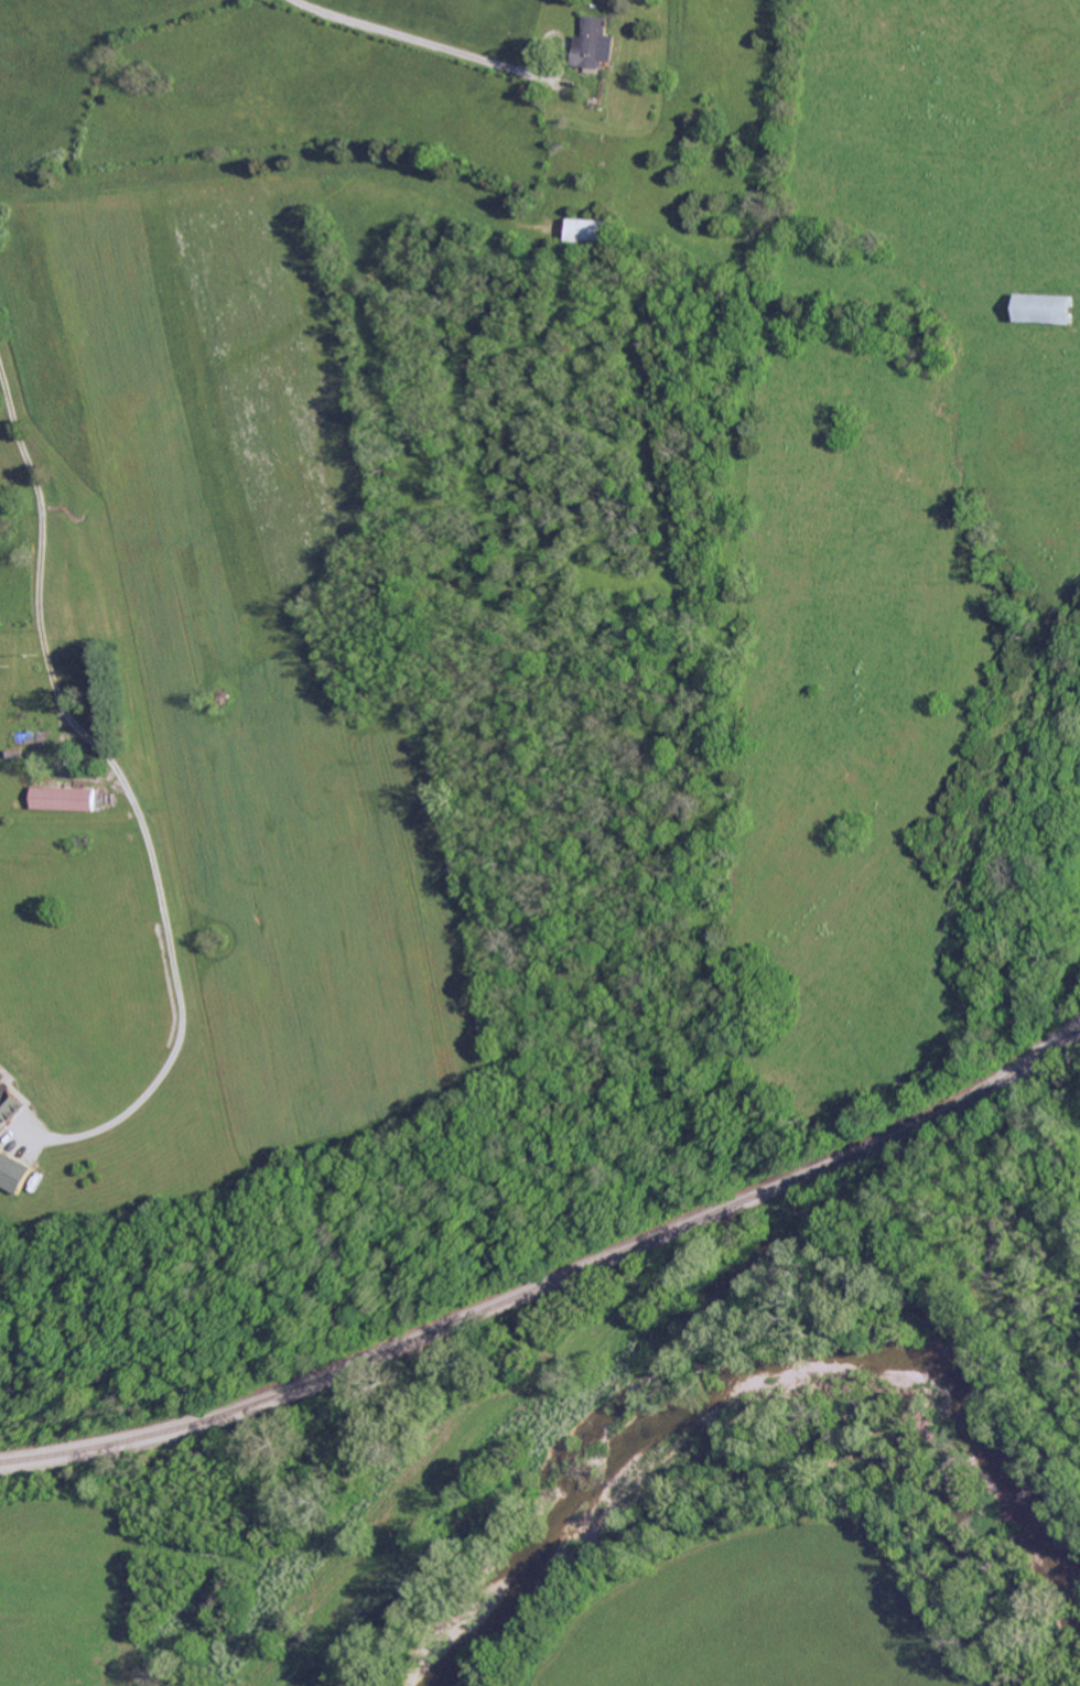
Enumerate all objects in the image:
road: (412, 37)
road: (566, 40)
building: (598, 41)
building: (1051, 309)
road: (122, 782)
building: (67, 797)
building: (9, 1096)
building: (14, 1170)
railway: (552, 1279)

